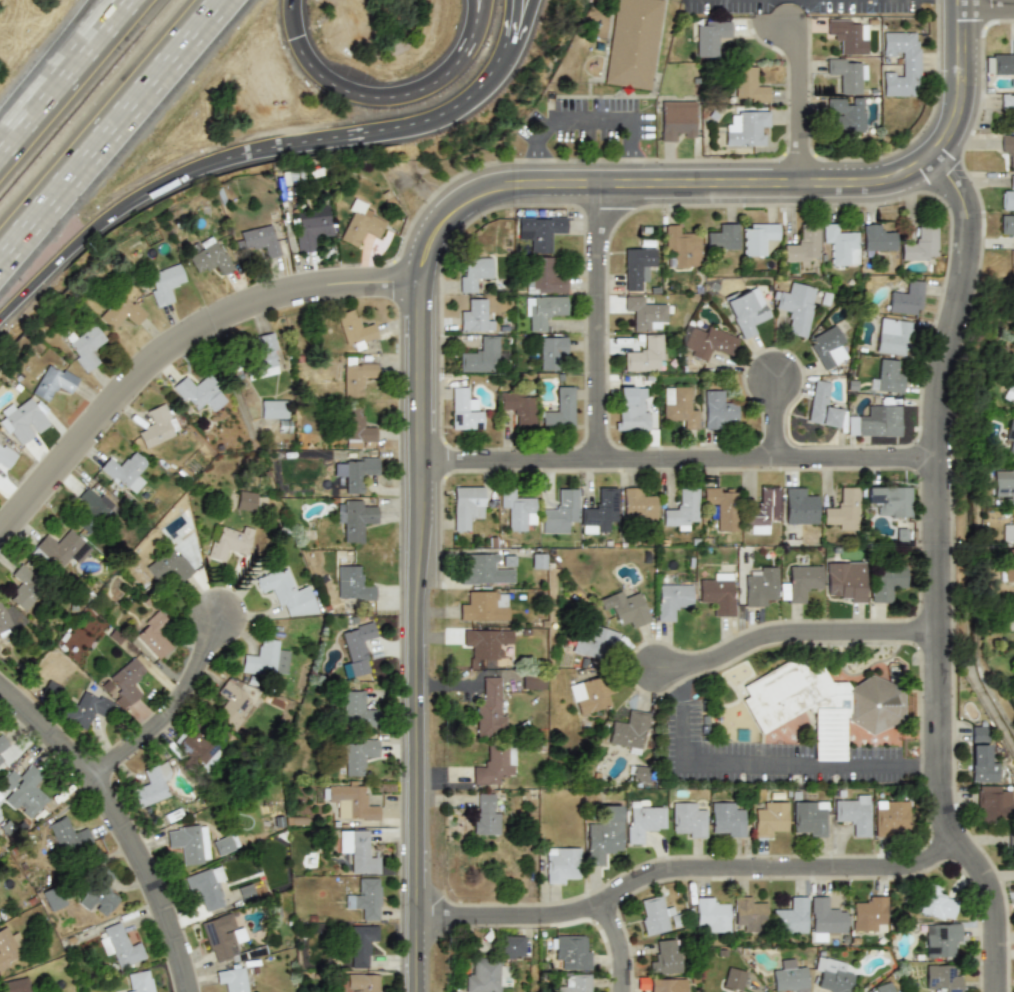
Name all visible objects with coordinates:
road: (990, 8)
road: (477, 16)
road: (508, 28)
road: (518, 28)
building: (846, 36)
building: (710, 37)
building: (632, 43)
building: (902, 62)
building: (1004, 63)
road: (50, 66)
road: (62, 74)
building: (847, 74)
building: (748, 85)
road: (965, 88)
road: (383, 101)
building: (1008, 103)
road: (808, 107)
road: (592, 113)
building: (847, 113)
building: (676, 119)
building: (748, 129)
road: (378, 131)
road: (113, 133)
building: (1008, 146)
road: (535, 165)
road: (634, 167)
road: (773, 192)
building: (1008, 195)
building: (360, 223)
road: (102, 225)
building: (1007, 226)
building: (311, 231)
building: (539, 232)
building: (723, 237)
building: (759, 238)
building: (877, 238)
building: (260, 239)
building: (803, 244)
building: (919, 244)
building: (841, 245)
building: (680, 247)
building: (211, 257)
building: (638, 266)
building: (473, 272)
building: (543, 275)
building: (164, 283)
building: (905, 298)
building: (796, 306)
building: (544, 310)
building: (121, 312)
building: (644, 312)
building: (745, 313)
building: (475, 316)
building: (355, 329)
road: (607, 332)
building: (893, 336)
building: (707, 342)
building: (84, 347)
building: (828, 347)
building: (551, 351)
road: (179, 353)
building: (264, 354)
building: (645, 354)
building: (480, 356)
building: (886, 376)
building: (355, 377)
building: (53, 382)
building: (1009, 391)
building: (199, 392)
building: (822, 404)
building: (630, 405)
building: (678, 406)
building: (519, 407)
building: (559, 407)
building: (274, 409)
building: (463, 409)
building: (717, 409)
building: (23, 421)
building: (875, 421)
road: (775, 424)
building: (156, 426)
building: (357, 426)
building: (1010, 436)
building: (6, 456)
road: (686, 468)
building: (125, 470)
building: (358, 474)
building: (1003, 481)
building: (889, 500)
building: (244, 501)
building: (99, 502)
building: (637, 505)
building: (466, 506)
building: (721, 506)
building: (799, 506)
building: (681, 509)
building: (844, 509)
building: (515, 510)
building: (560, 511)
building: (599, 511)
building: (762, 511)
building: (356, 519)
road: (427, 528)
building: (1008, 529)
building: (230, 541)
building: (61, 547)
building: (536, 560)
building: (170, 566)
building: (1006, 566)
building: (484, 569)
building: (846, 580)
building: (801, 582)
building: (886, 582)
road: (945, 582)
building: (352, 583)
building: (759, 585)
building: (26, 588)
building: (288, 593)
building: (718, 594)
building: (673, 599)
building: (1012, 604)
building: (483, 606)
building: (626, 607)
building: (9, 619)
road: (797, 631)
building: (154, 634)
building: (595, 641)
building: (484, 644)
building: (357, 648)
building: (266, 659)
building: (125, 681)
building: (531, 681)
building: (590, 694)
building: (233, 703)
building: (822, 704)
building: (487, 708)
building: (85, 709)
building: (355, 710)
road: (178, 716)
building: (628, 729)
building: (198, 743)
building: (2, 746)
building: (357, 755)
building: (981, 756)
building: (495, 764)
road: (767, 766)
road: (931, 768)
building: (639, 773)
building: (152, 785)
building: (25, 788)
building: (349, 801)
building: (994, 803)
building: (852, 813)
building: (484, 814)
building: (891, 816)
building: (809, 817)
building: (769, 818)
building: (644, 819)
building: (687, 819)
building: (725, 820)
road: (123, 824)
building: (69, 834)
building: (604, 835)
building: (1010, 841)
building: (189, 842)
building: (224, 844)
building: (358, 852)
building: (562, 865)
road: (693, 877)
building: (206, 885)
building: (100, 893)
building: (53, 898)
building: (365, 898)
building: (936, 903)
building: (656, 914)
building: (712, 914)
building: (748, 914)
building: (870, 914)
building: (791, 916)
building: (827, 916)
building: (222, 935)
building: (941, 940)
building: (362, 943)
building: (120, 945)
building: (511, 946)
building: (9, 948)
road: (625, 948)
building: (571, 950)
building: (666, 957)
building: (833, 974)
building: (485, 976)
building: (232, 978)
building: (733, 978)
building: (789, 978)
building: (942, 978)
building: (138, 981)
building: (746, 981)
building: (362, 982)
building: (577, 983)
building: (14, 985)
building: (668, 985)
building: (884, 987)

